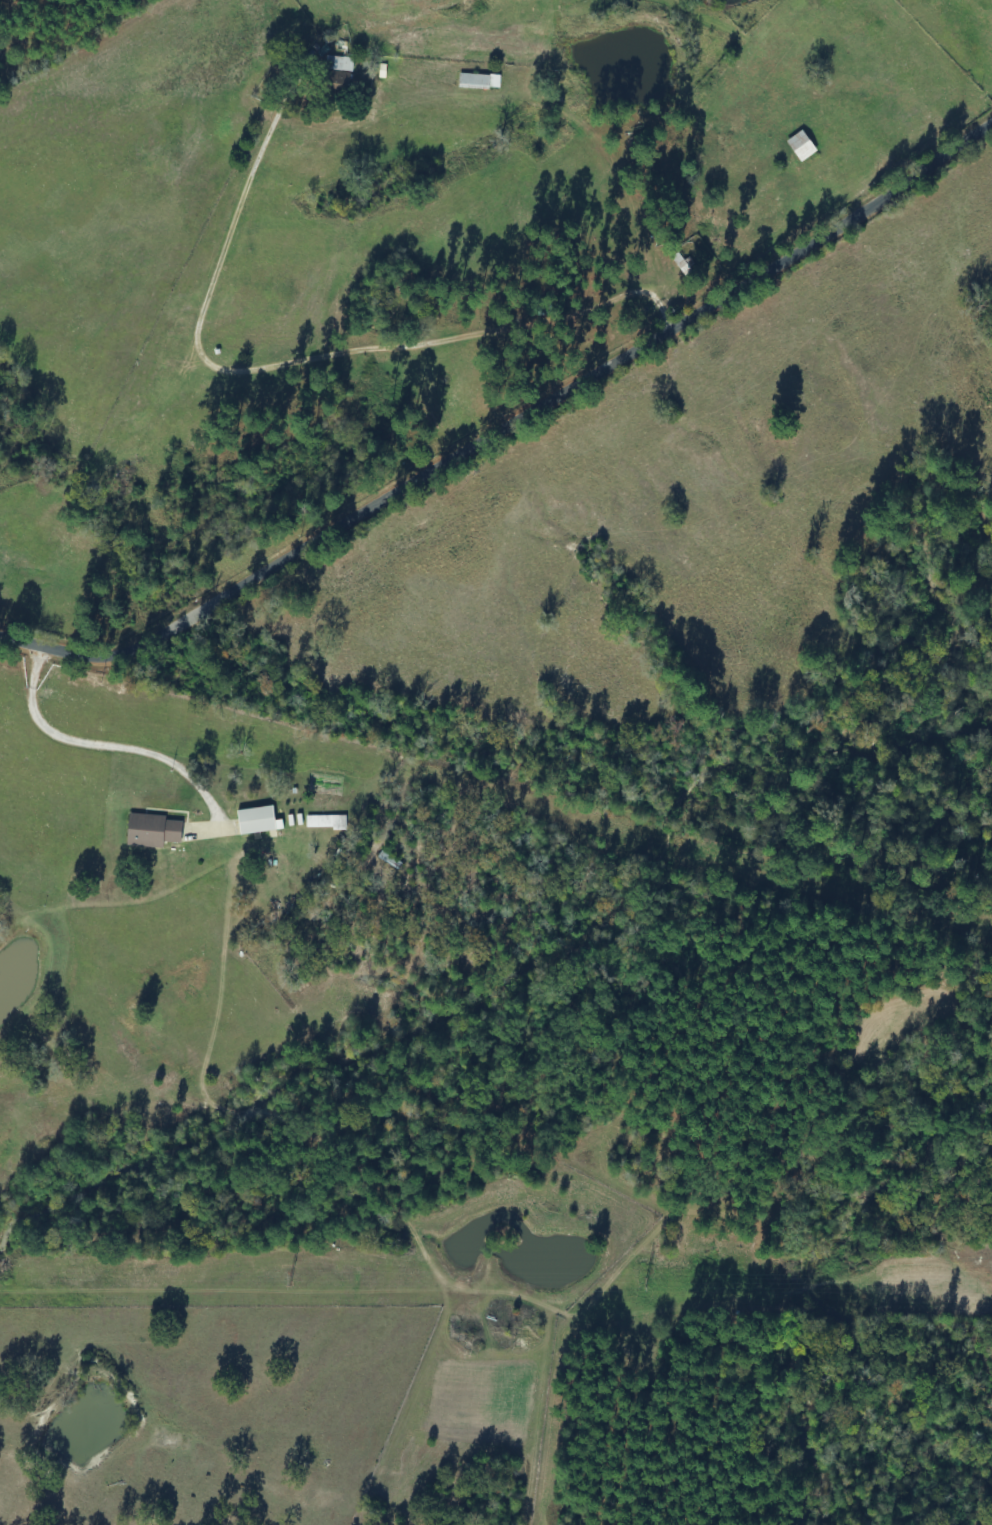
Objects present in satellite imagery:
road: (821, 56)
building: (336, 77)
building: (467, 81)
building: (800, 146)
building: (679, 262)
road: (508, 442)
building: (256, 821)
building: (325, 822)
building: (152, 831)
power tower: (286, 1278)
power tower: (639, 1279)

